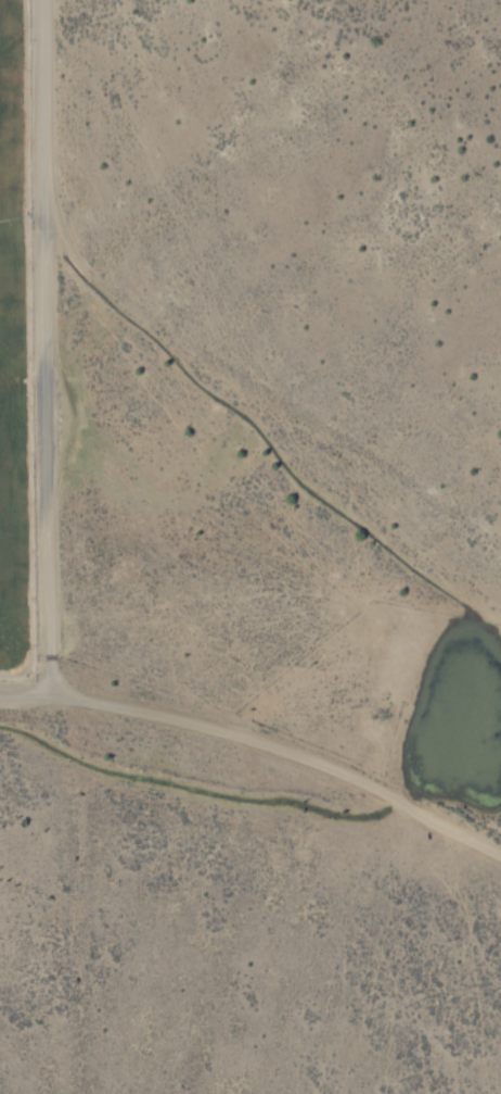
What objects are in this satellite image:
road: (51, 345)
road: (25, 691)
road: (284, 750)

